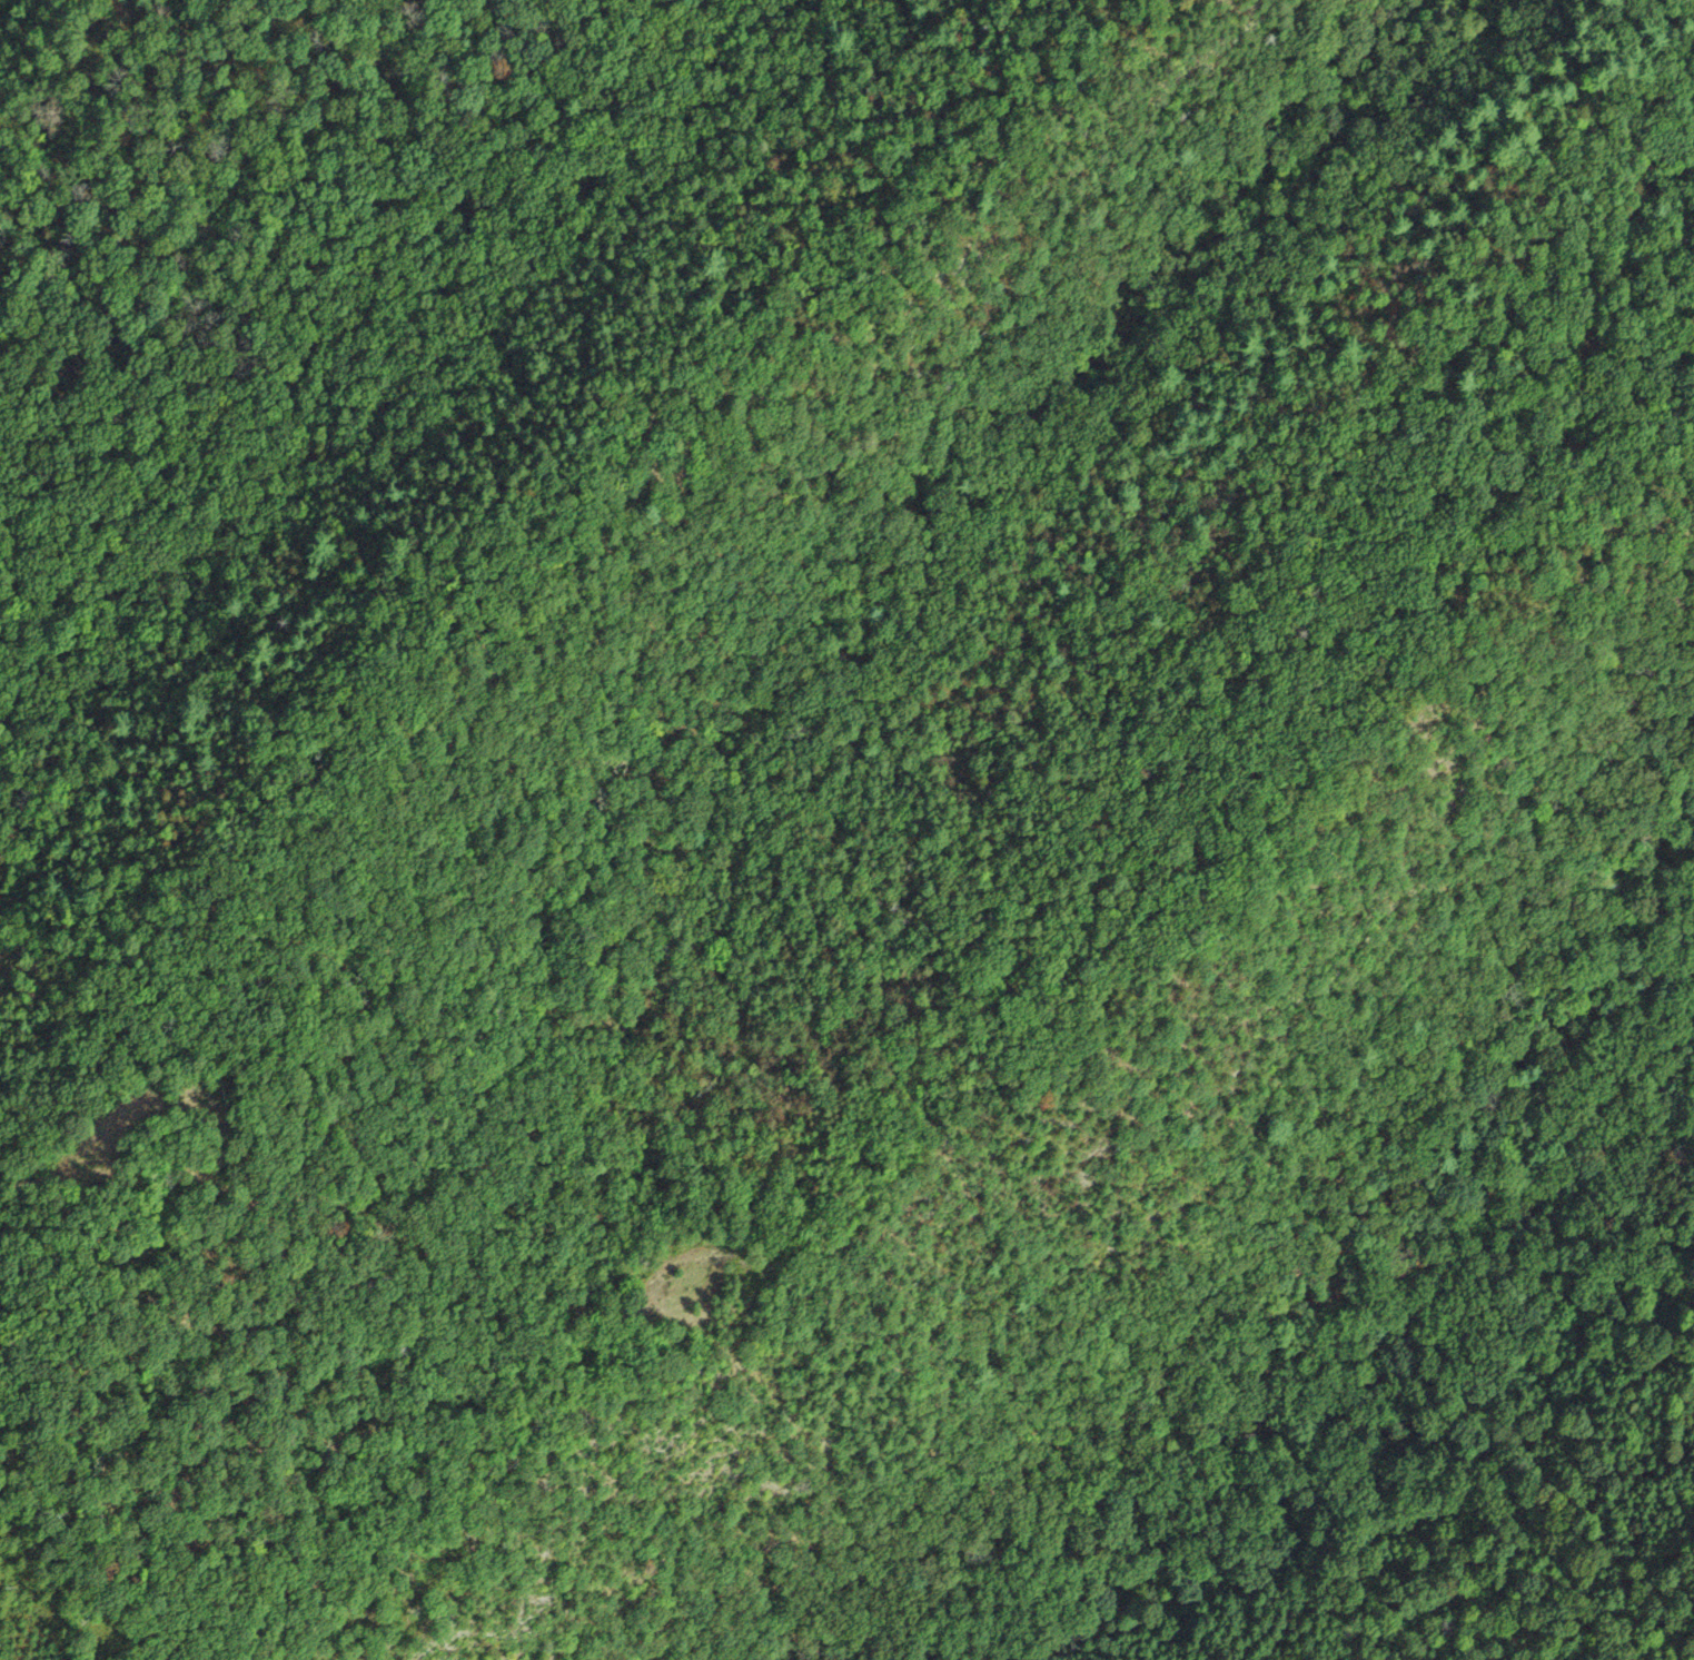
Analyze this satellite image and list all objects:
road: (713, 27)
road: (493, 569)

